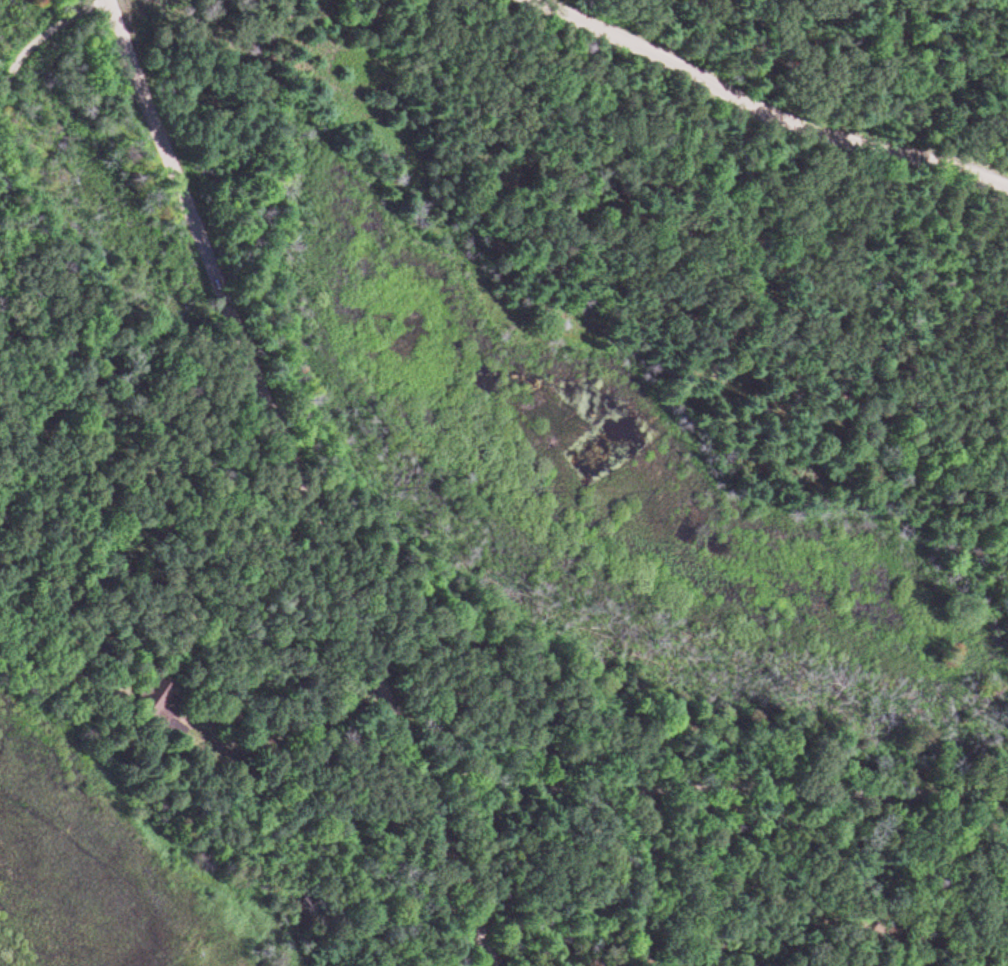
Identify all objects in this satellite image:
road: (42, 38)
road: (758, 114)
road: (297, 482)
building: (159, 703)
road: (289, 725)

